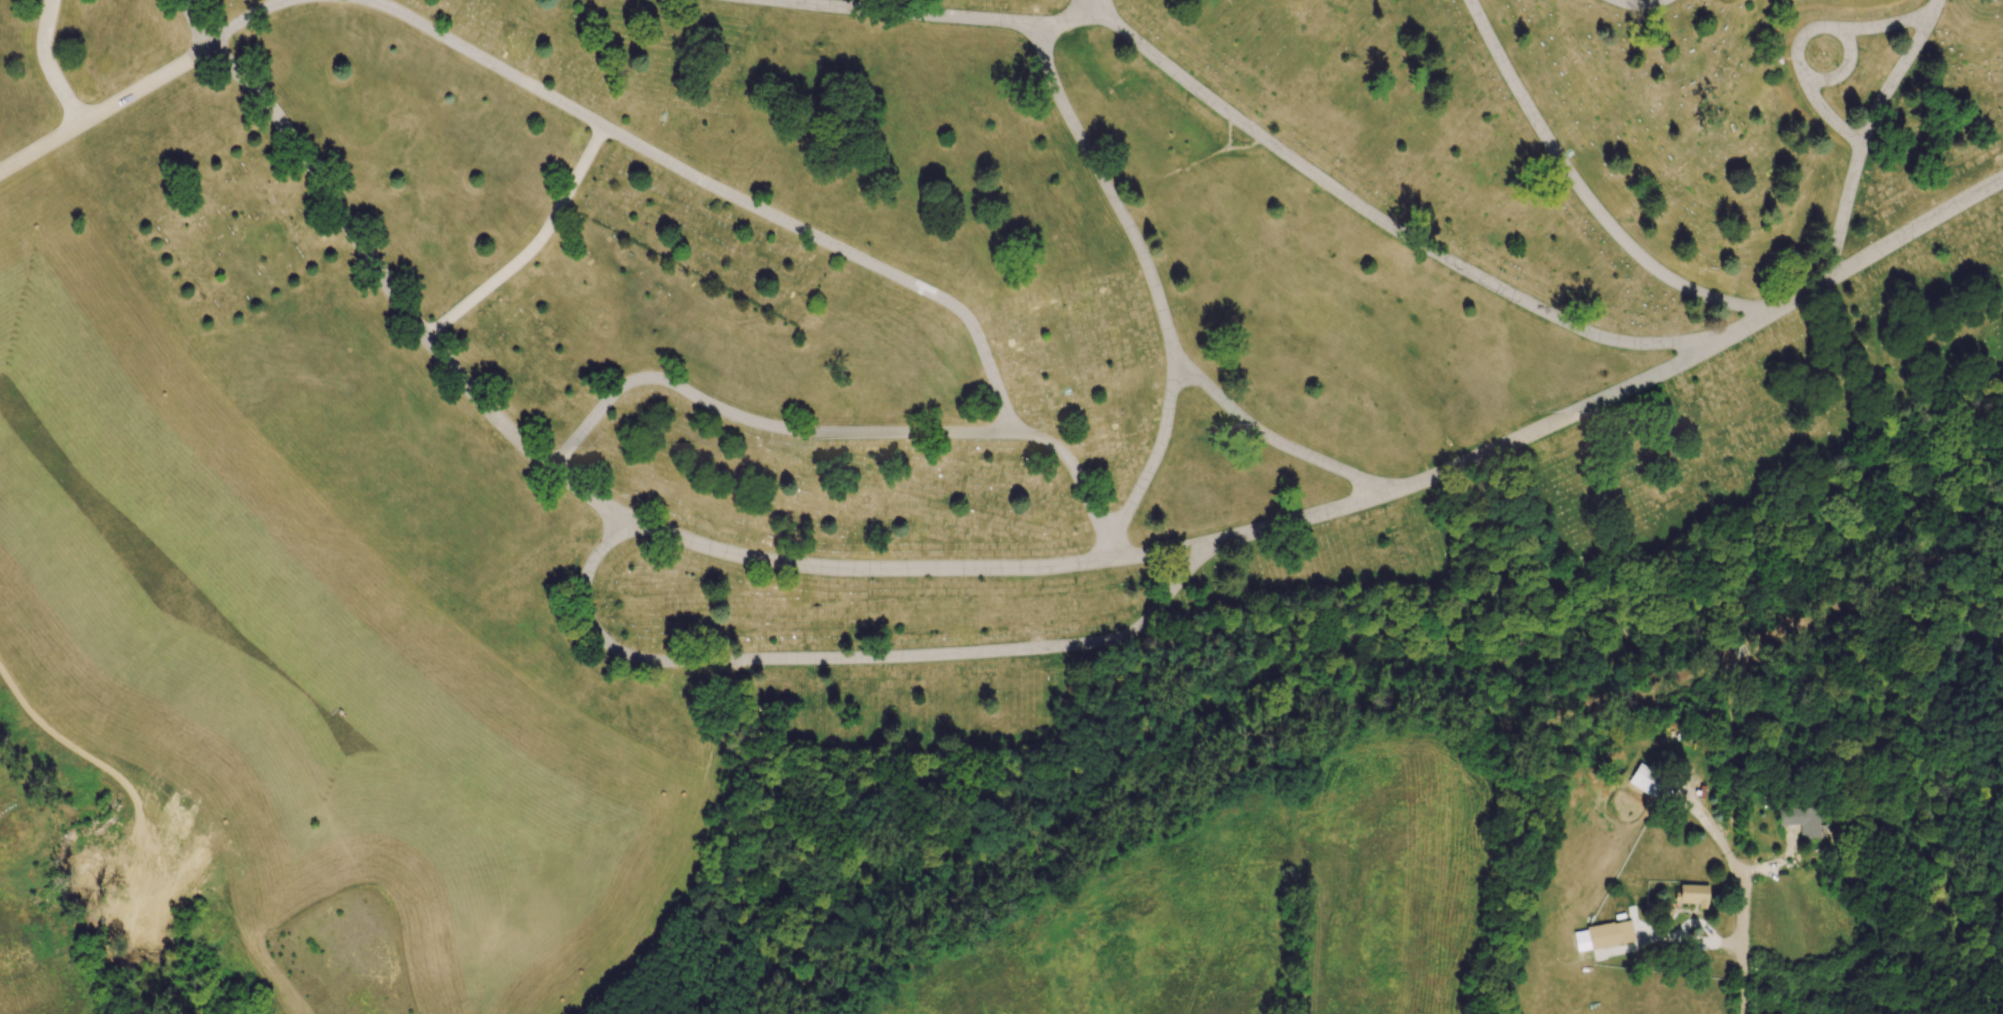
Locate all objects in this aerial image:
road: (1094, 3)
road: (1098, 3)
road: (1641, 4)
road: (1805, 33)
road: (51, 63)
road: (146, 84)
road: (1247, 125)
road: (1866, 133)
road: (722, 185)
road: (1585, 193)
road: (534, 245)
road: (846, 433)
park: (883, 438)
road: (1157, 455)
road: (1422, 480)
road: (584, 492)
road: (947, 653)
building: (1645, 780)
building: (1802, 820)
road: (1710, 828)
building: (1694, 895)
building: (1610, 934)
road: (1690, 939)
road: (1742, 944)

